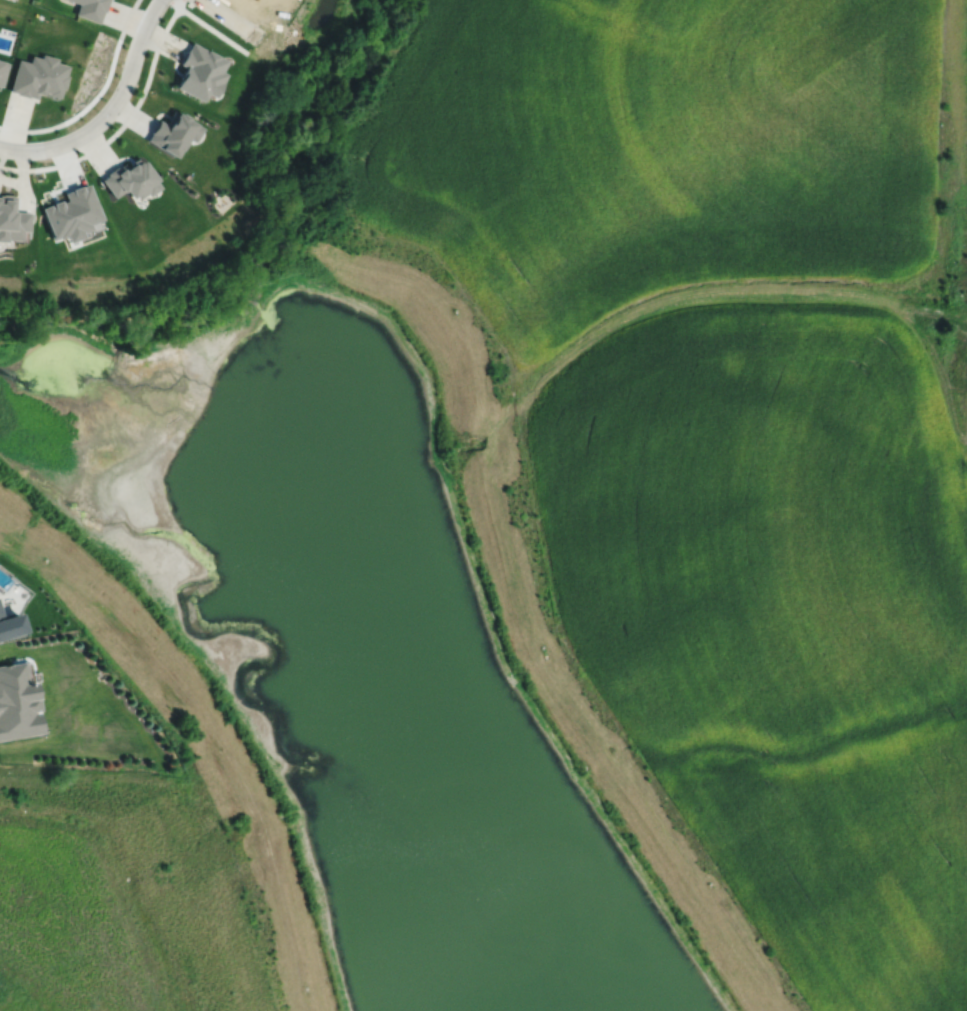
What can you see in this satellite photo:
street lamp: (168, 6)
building: (90, 8)
road: (231, 18)
street lamp: (221, 24)
building: (3, 71)
building: (201, 72)
building: (39, 77)
road: (142, 94)
road: (96, 97)
street lamp: (97, 110)
road: (110, 111)
building: (173, 133)
building: (130, 180)
building: (71, 214)
building: (12, 220)
crop: (726, 423)
building: (10, 625)
building: (16, 703)

